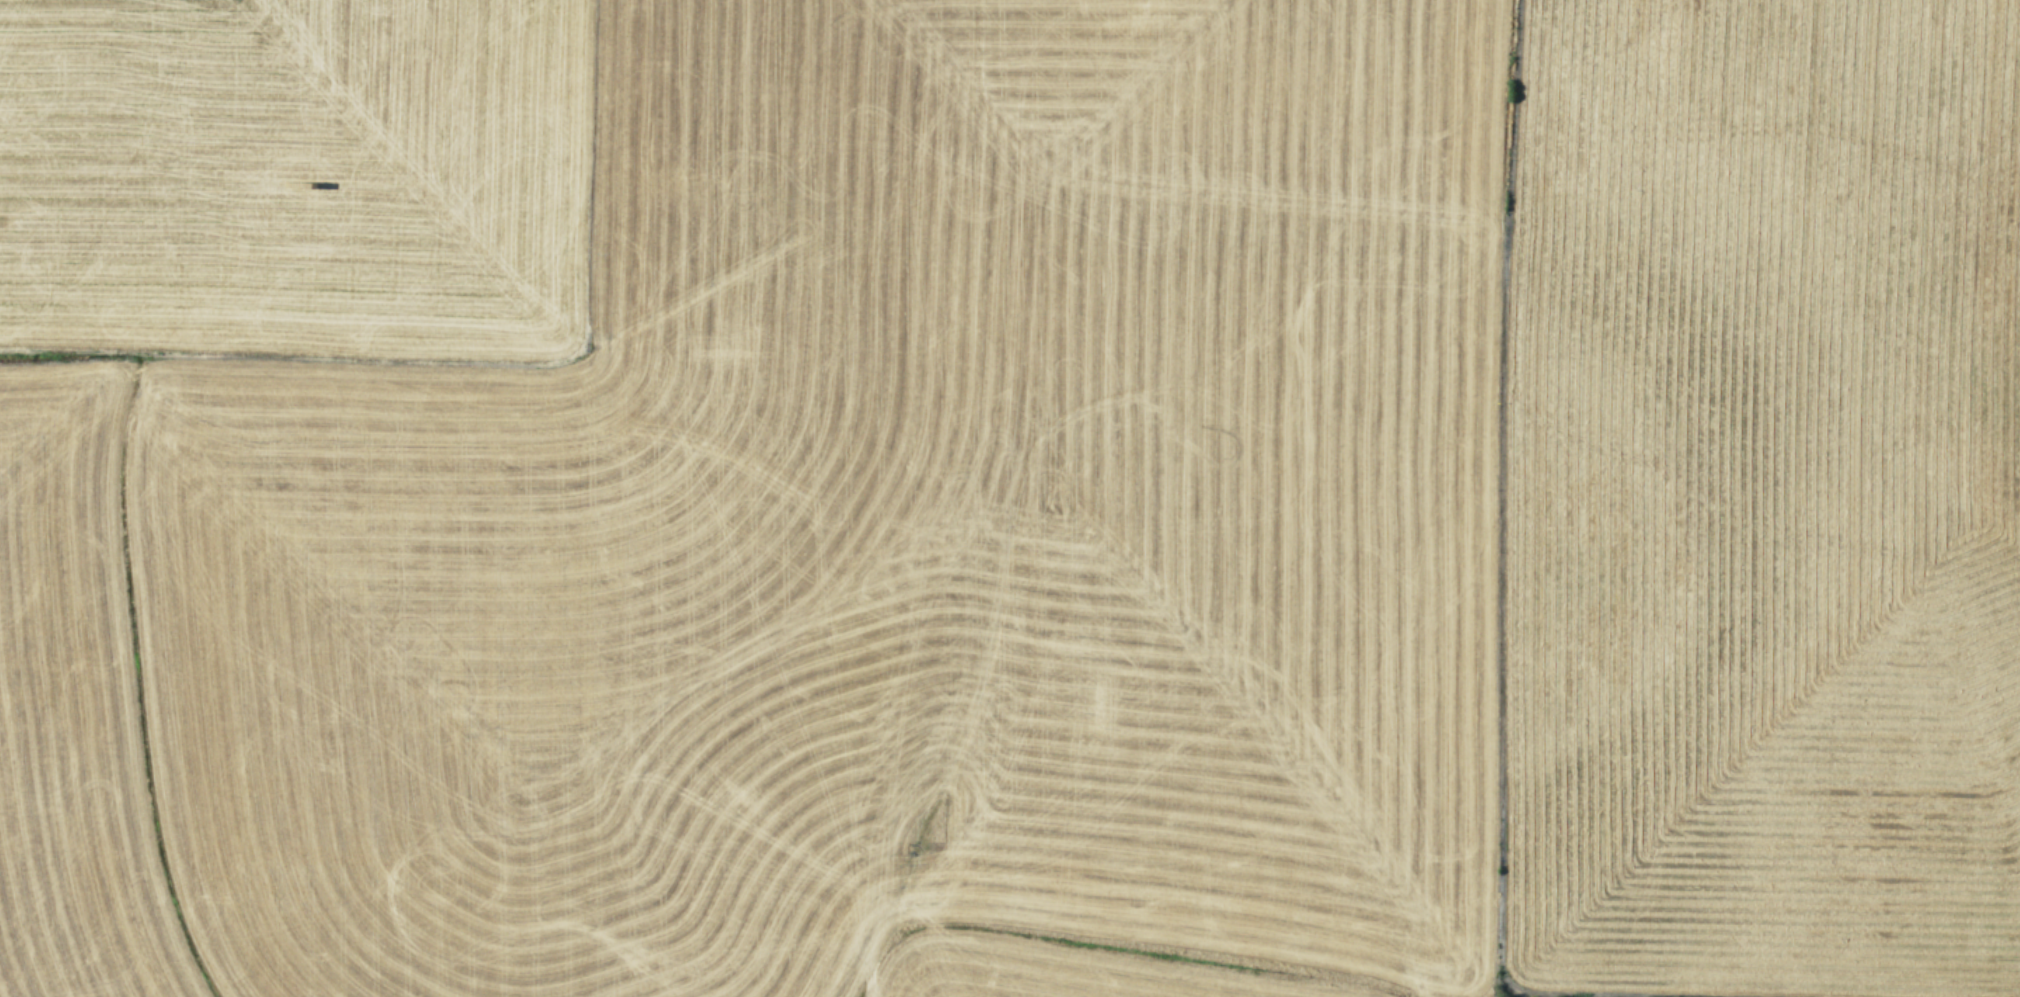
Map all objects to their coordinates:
crop: (1010, 498)

